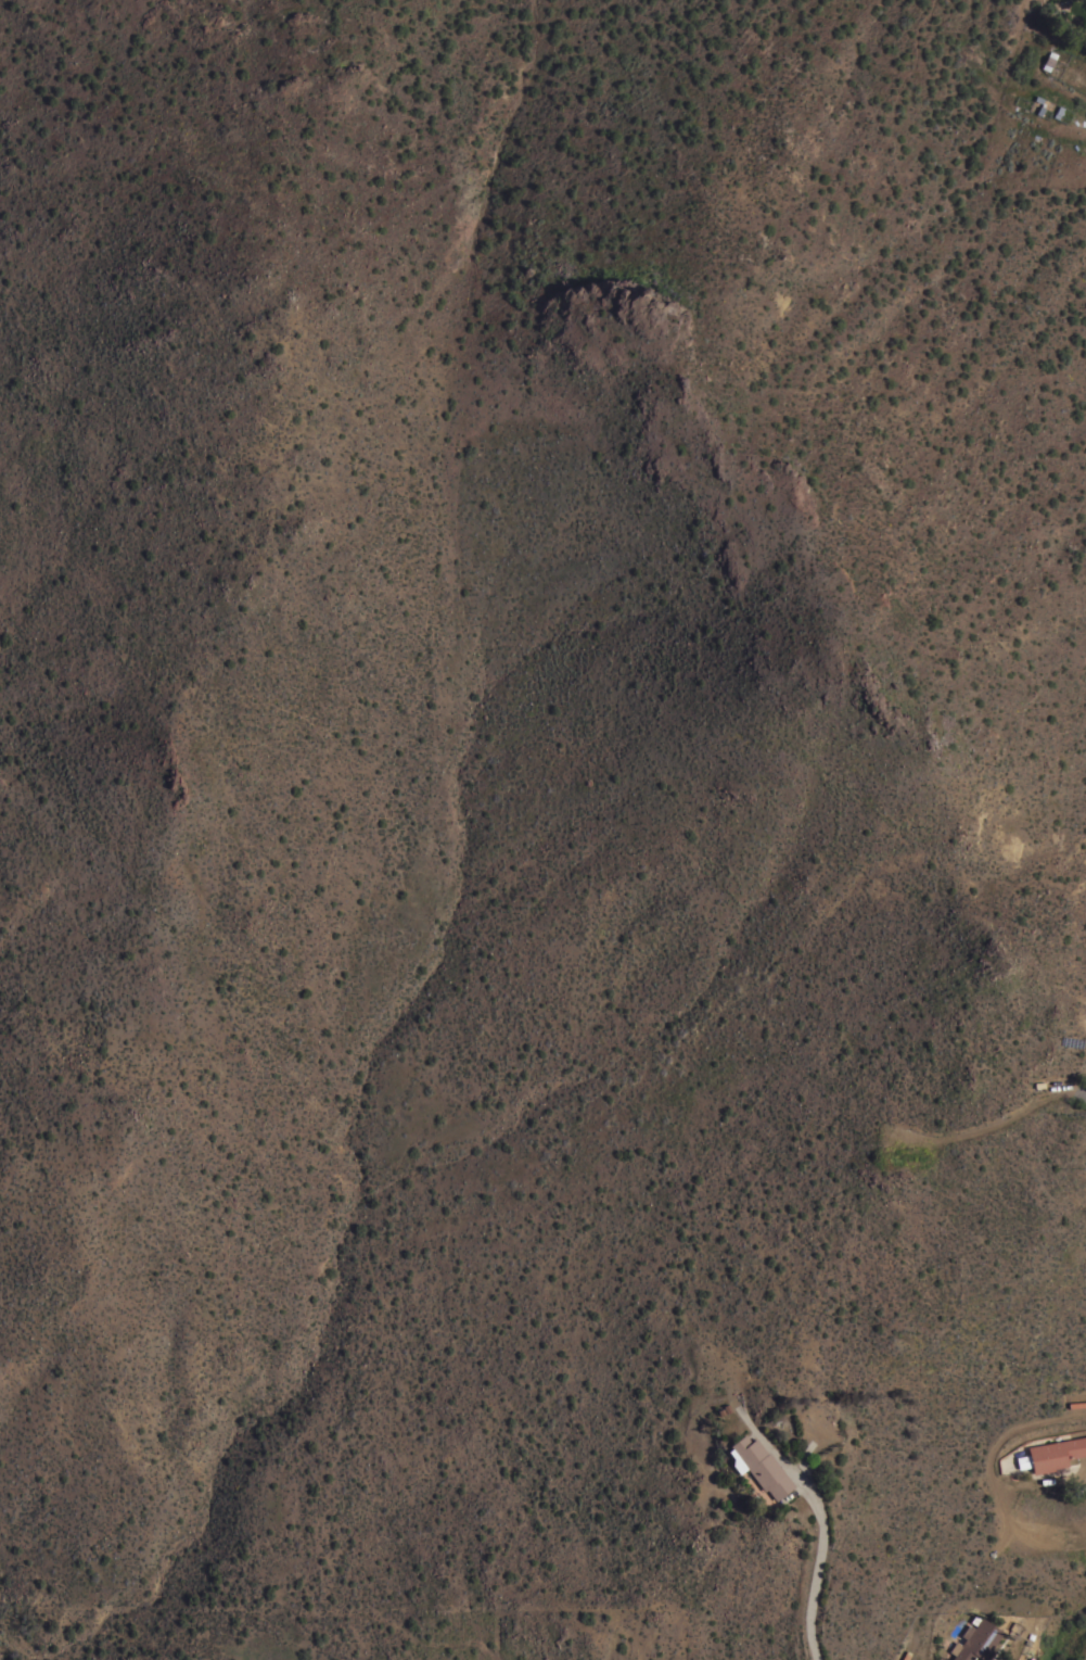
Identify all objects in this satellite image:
building: (1048, 60)
road: (1085, 1093)
building: (1056, 1453)
building: (758, 1466)
road: (1082, 1473)
road: (823, 1529)
building: (975, 1640)
building: (941, 1658)

